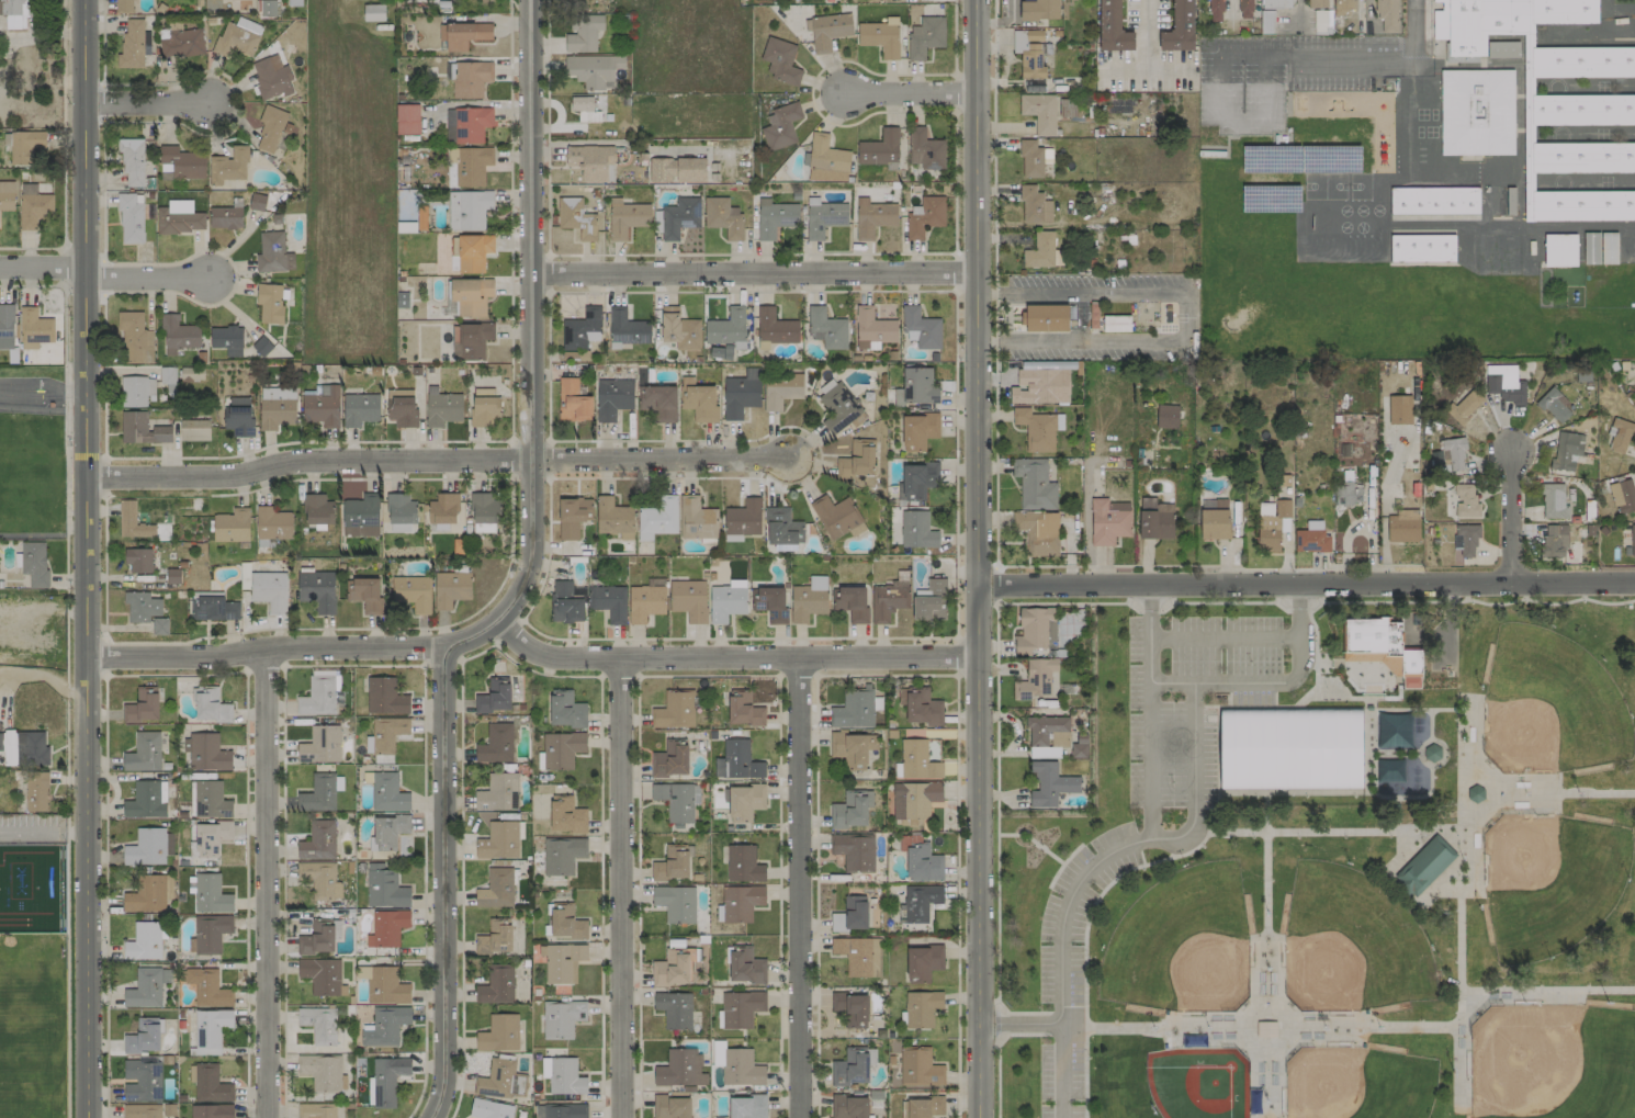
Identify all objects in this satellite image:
building: (293, 2)
building: (1275, 3)
building: (1318, 3)
building: (123, 7)
building: (1343, 7)
building: (267, 8)
building: (1245, 9)
building: (1039, 10)
building: (1215, 10)
road: (1229, 10)
road: (1297, 11)
building: (373, 12)
building: (14, 13)
building: (1387, 15)
building: (1267, 20)
building: (1113, 27)
building: (1179, 27)
building: (827, 30)
building: (584, 33)
building: (463, 35)
building: (880, 36)
building: (925, 36)
building: (237, 37)
building: (180, 42)
building: (133, 44)
building: (1502, 49)
road: (1141, 53)
building: (1033, 55)
road: (1340, 57)
building: (780, 60)
building: (1581, 63)
building: (593, 69)
road: (1125, 69)
building: (267, 78)
building: (469, 78)
road: (910, 93)
road: (145, 103)
building: (584, 108)
building: (1581, 110)
building: (1039, 112)
building: (1476, 112)
building: (407, 120)
building: (466, 124)
building: (780, 126)
building: (271, 127)
building: (24, 146)
building: (880, 148)
building: (925, 150)
building: (1580, 158)
building: (1033, 159)
building: (826, 160)
building: (132, 161)
building: (591, 162)
building: (180, 163)
building: (228, 166)
building: (473, 166)
building: (676, 170)
building: (7, 195)
building: (256, 202)
building: (1034, 205)
building: (1581, 205)
building: (33, 206)
building: (467, 210)
building: (925, 216)
building: (179, 217)
building: (225, 217)
building: (625, 217)
building: (679, 217)
building: (723, 217)
building: (775, 217)
building: (823, 217)
building: (873, 217)
building: (129, 219)
building: (576, 219)
building: (1422, 248)
building: (1609, 248)
building: (1559, 250)
building: (473, 252)
building: (1042, 252)
building: (273, 253)
road: (42, 268)
road: (755, 273)
road: (144, 279)
road: (1080, 294)
building: (471, 295)
building: (402, 300)
building: (269, 304)
building: (1092, 316)
building: (1045, 318)
road: (1186, 318)
building: (5, 327)
building: (627, 327)
building: (34, 328)
building: (728, 328)
building: (775, 328)
building: (826, 328)
building: (920, 328)
building: (582, 329)
building: (679, 329)
building: (872, 329)
building: (178, 335)
building: (134, 338)
building: (226, 339)
building: (473, 340)
road: (1079, 341)
building: (261, 346)
road: (530, 346)
building: (190, 374)
building: (166, 375)
building: (1582, 375)
building: (1041, 383)
building: (1504, 383)
building: (916, 387)
building: (780, 389)
building: (136, 391)
road: (42, 392)
building: (741, 394)
building: (612, 398)
building: (572, 400)
building: (698, 400)
building: (658, 403)
building: (1554, 405)
building: (1464, 406)
building: (275, 407)
building: (322, 407)
building: (441, 407)
building: (484, 407)
building: (838, 408)
building: (360, 409)
building: (1399, 409)
building: (402, 410)
building: (238, 416)
building: (1166, 416)
building: (142, 429)
building: (1038, 429)
building: (194, 430)
building: (917, 430)
building: (1620, 436)
building: (1567, 450)
building: (1453, 456)
building: (857, 459)
road: (437, 460)
park: (26, 462)
building: (916, 481)
building: (1034, 484)
building: (1350, 489)
building: (1623, 496)
road: (994, 498)
building: (1465, 501)
building: (1554, 501)
building: (484, 508)
road: (1384, 509)
building: (317, 510)
building: (443, 511)
building: (401, 512)
building: (360, 516)
building: (572, 517)
building: (656, 517)
building: (837, 517)
building: (612, 518)
road: (1510, 518)
building: (696, 519)
building: (1154, 519)
building: (742, 520)
building: (1108, 521)
building: (1215, 521)
building: (132, 522)
building: (272, 523)
building: (232, 526)
building: (781, 527)
building: (1273, 527)
building: (483, 528)
building: (1402, 529)
building: (916, 530)
building: (1038, 531)
building: (1311, 538)
building: (1466, 539)
building: (1554, 540)
building: (1633, 540)
road: (86, 558)
road: (977, 558)
building: (138, 560)
building: (34, 563)
road: (1306, 584)
building: (451, 588)
building: (269, 590)
building: (317, 590)
building: (411, 591)
building: (365, 594)
building: (688, 599)
building: (808, 599)
building: (888, 600)
building: (931, 601)
building: (608, 602)
building: (644, 602)
building: (725, 602)
building: (850, 602)
building: (565, 603)
building: (769, 603)
building: (140, 607)
building: (213, 608)
building: (159, 625)
building: (1035, 630)
road: (1225, 639)
building: (1380, 646)
road: (264, 648)
road: (731, 656)
building: (1036, 679)
road: (1171, 682)
building: (318, 696)
building: (494, 696)
building: (384, 697)
road: (1150, 699)
building: (142, 705)
building: (210, 705)
building: (920, 705)
park: (1551, 705)
building: (743, 709)
building: (565, 710)
building: (674, 710)
building: (853, 710)
building: (1392, 731)
building: (385, 734)
building: (1047, 736)
building: (496, 744)
building: (319, 745)
building: (24, 747)
building: (848, 748)
building: (1289, 748)
building: (562, 749)
building: (205, 752)
building: (1431, 752)
building: (144, 753)
building: (670, 759)
building: (917, 760)
building: (737, 761)
building: (1389, 770)
building: (1049, 783)
building: (35, 791)
building: (387, 793)
building: (497, 793)
building: (318, 794)
building: (914, 799)
building: (146, 800)
building: (211, 800)
building: (677, 800)
building: (744, 802)
building: (852, 809)
building: (566, 815)
building: (387, 832)
road: (43, 833)
road: (1181, 835)
building: (211, 838)
building: (498, 840)
building: (318, 842)
building: (146, 848)
building: (854, 851)
building: (562, 855)
road: (442, 860)
building: (672, 863)
building: (743, 863)
building: (923, 863)
building: (1424, 866)
park: (1333, 869)
building: (320, 879)
park: (1552, 882)
road: (264, 883)
road: (797, 887)
building: (384, 888)
road: (620, 888)
building: (496, 889)
building: (207, 893)
building: (147, 894)
building: (921, 901)
building: (675, 903)
building: (741, 903)
building: (852, 914)
building: (566, 922)
building: (386, 927)
building: (208, 933)
road: (1458, 936)
building: (495, 938)
building: (144, 941)
park: (1352, 944)
park: (1182, 946)
building: (859, 956)
building: (563, 962)
building: (923, 962)
building: (745, 965)
building: (670, 969)
building: (322, 975)
building: (496, 985)
building: (386, 986)
building: (146, 987)
building: (207, 987)
building: (741, 1008)
building: (852, 1008)
building: (922, 1008)
building: (674, 1009)
building: (562, 1018)
road: (1019, 1024)
building: (318, 1025)
park: (32, 1026)
building: (385, 1026)
building: (1265, 1029)
building: (210, 1030)
building: (498, 1034)
building: (144, 1037)
park: (1553, 1062)
building: (850, 1068)
building: (918, 1068)
building: (680, 1069)
building: (741, 1069)
building: (322, 1072)
building: (562, 1075)
park: (1189, 1079)
building: (387, 1080)
building: (500, 1080)
building: (143, 1081)
building: (208, 1084)
park: (1358, 1084)
road: (433, 1095)
building: (937, 1105)
building: (849, 1106)
building: (670, 1107)
building: (747, 1107)
building: (916, 1108)
building: (489, 1109)
building: (142, 1110)
building: (211, 1110)
building: (316, 1110)
building: (561, 1110)

